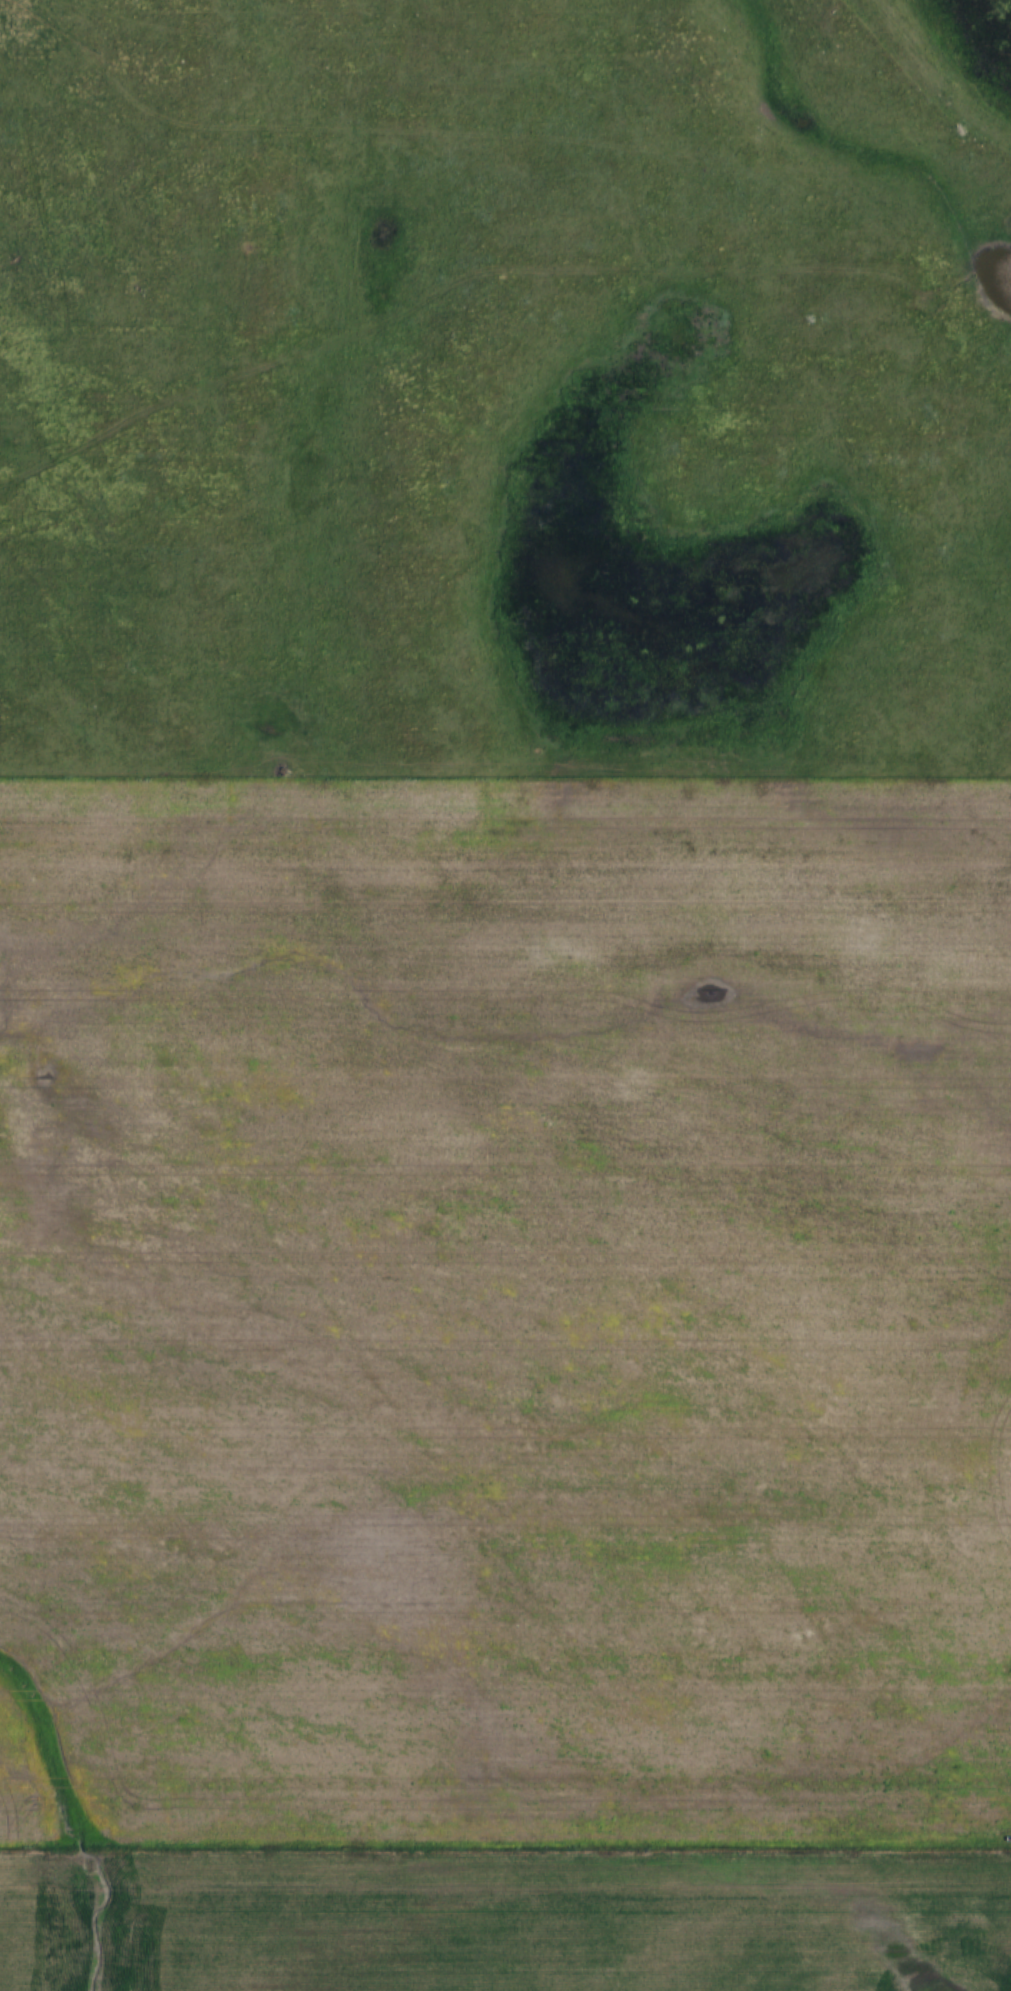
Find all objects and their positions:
road: (959, 63)

